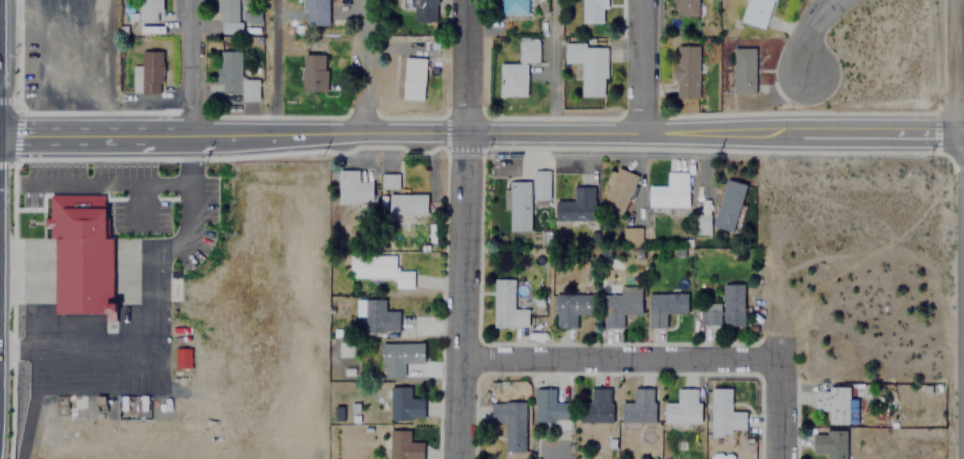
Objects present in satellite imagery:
building: (685, 4)
building: (514, 7)
building: (419, 9)
building: (145, 10)
building: (225, 10)
building: (593, 11)
building: (314, 12)
building: (757, 12)
road: (807, 30)
road: (112, 65)
road: (194, 65)
road: (273, 65)
road: (362, 66)
building: (588, 66)
road: (646, 66)
road: (953, 67)
building: (517, 69)
building: (150, 71)
building: (744, 71)
building: (313, 72)
building: (686, 72)
building: (233, 76)
building: (411, 79)
road: (479, 132)
road: (961, 134)
road: (961, 145)
building: (540, 179)
building: (351, 188)
building: (618, 190)
building: (670, 192)
building: (406, 204)
building: (519, 206)
building: (576, 206)
building: (729, 206)
road: (462, 229)
building: (80, 253)
building: (379, 269)
park: (248, 301)
building: (505, 305)
building: (665, 306)
building: (725, 306)
building: (572, 308)
building: (619, 308)
building: (379, 316)
building: (184, 356)
building: (399, 357)
road: (619, 359)
building: (403, 404)
building: (835, 404)
building: (549, 405)
building: (596, 405)
building: (639, 405)
building: (683, 406)
road: (777, 409)
building: (724, 413)
building: (510, 423)
building: (829, 443)
building: (403, 445)

